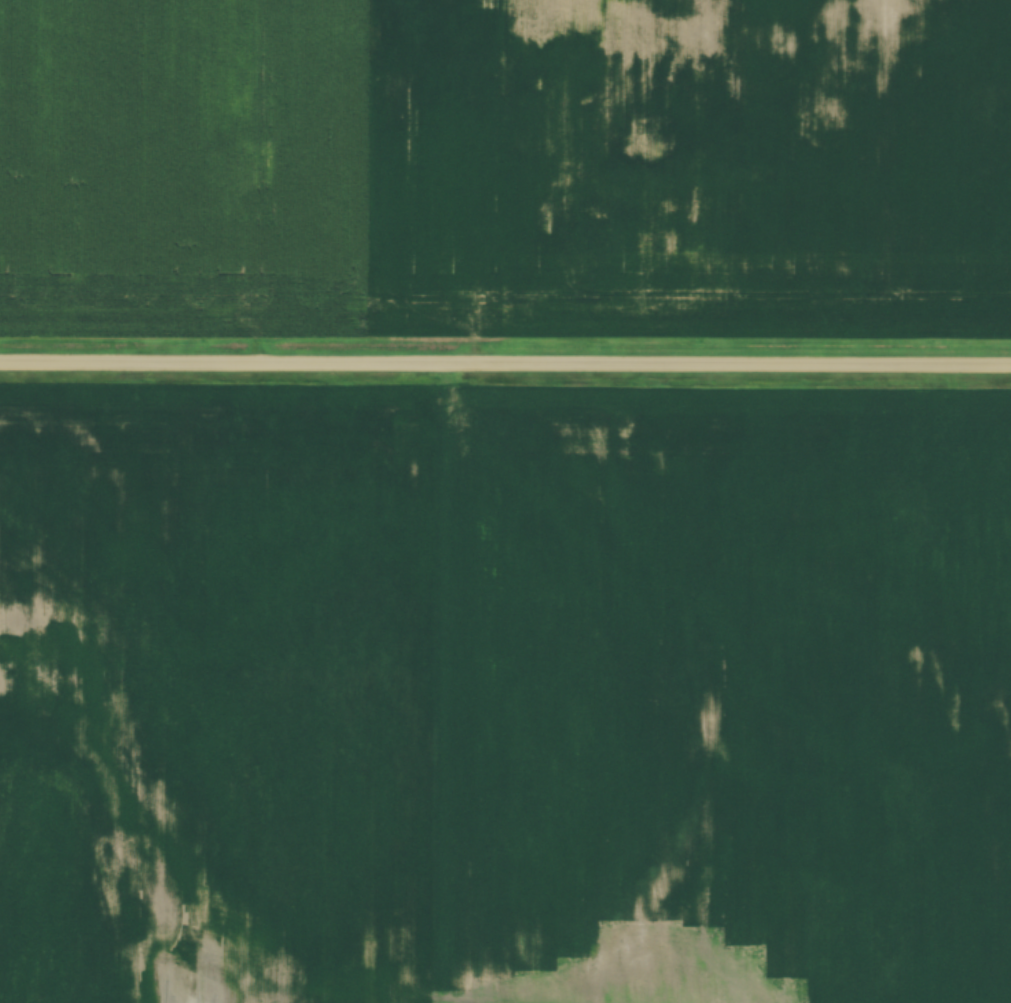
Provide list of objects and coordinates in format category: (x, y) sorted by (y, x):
road: (505, 366)

